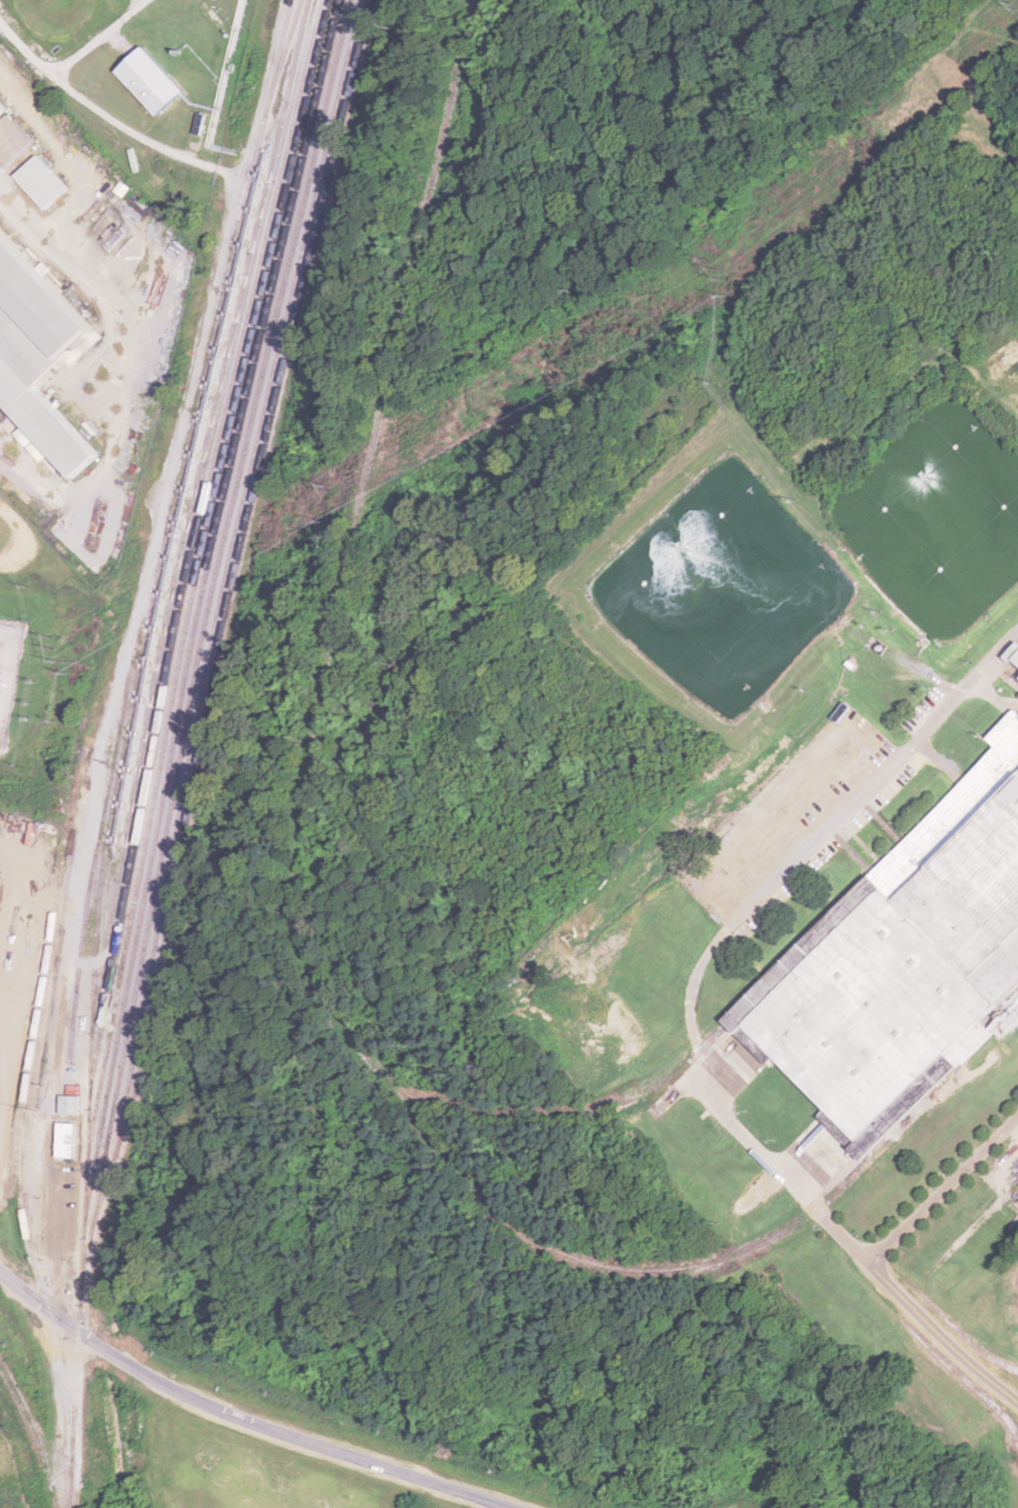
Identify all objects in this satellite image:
railway: (301, 2)
railway: (286, 45)
building: (148, 83)
building: (1, 110)
building: (11, 141)
building: (40, 183)
building: (36, 356)
railway: (189, 500)
railway: (194, 540)
railway: (159, 566)
railway: (236, 568)
railway: (200, 602)
railway: (220, 609)
railway: (185, 626)
power substation: (9, 672)
railway: (179, 748)
railway: (107, 792)
road: (802, 848)
building: (8, 909)
railway: (303, 938)
building: (911, 954)
railway: (651, 1090)
building: (68, 1104)
building: (65, 1140)
road: (943, 1189)
railway: (20, 1200)
road: (840, 1234)
road: (243, 1419)
railway: (34, 1434)

